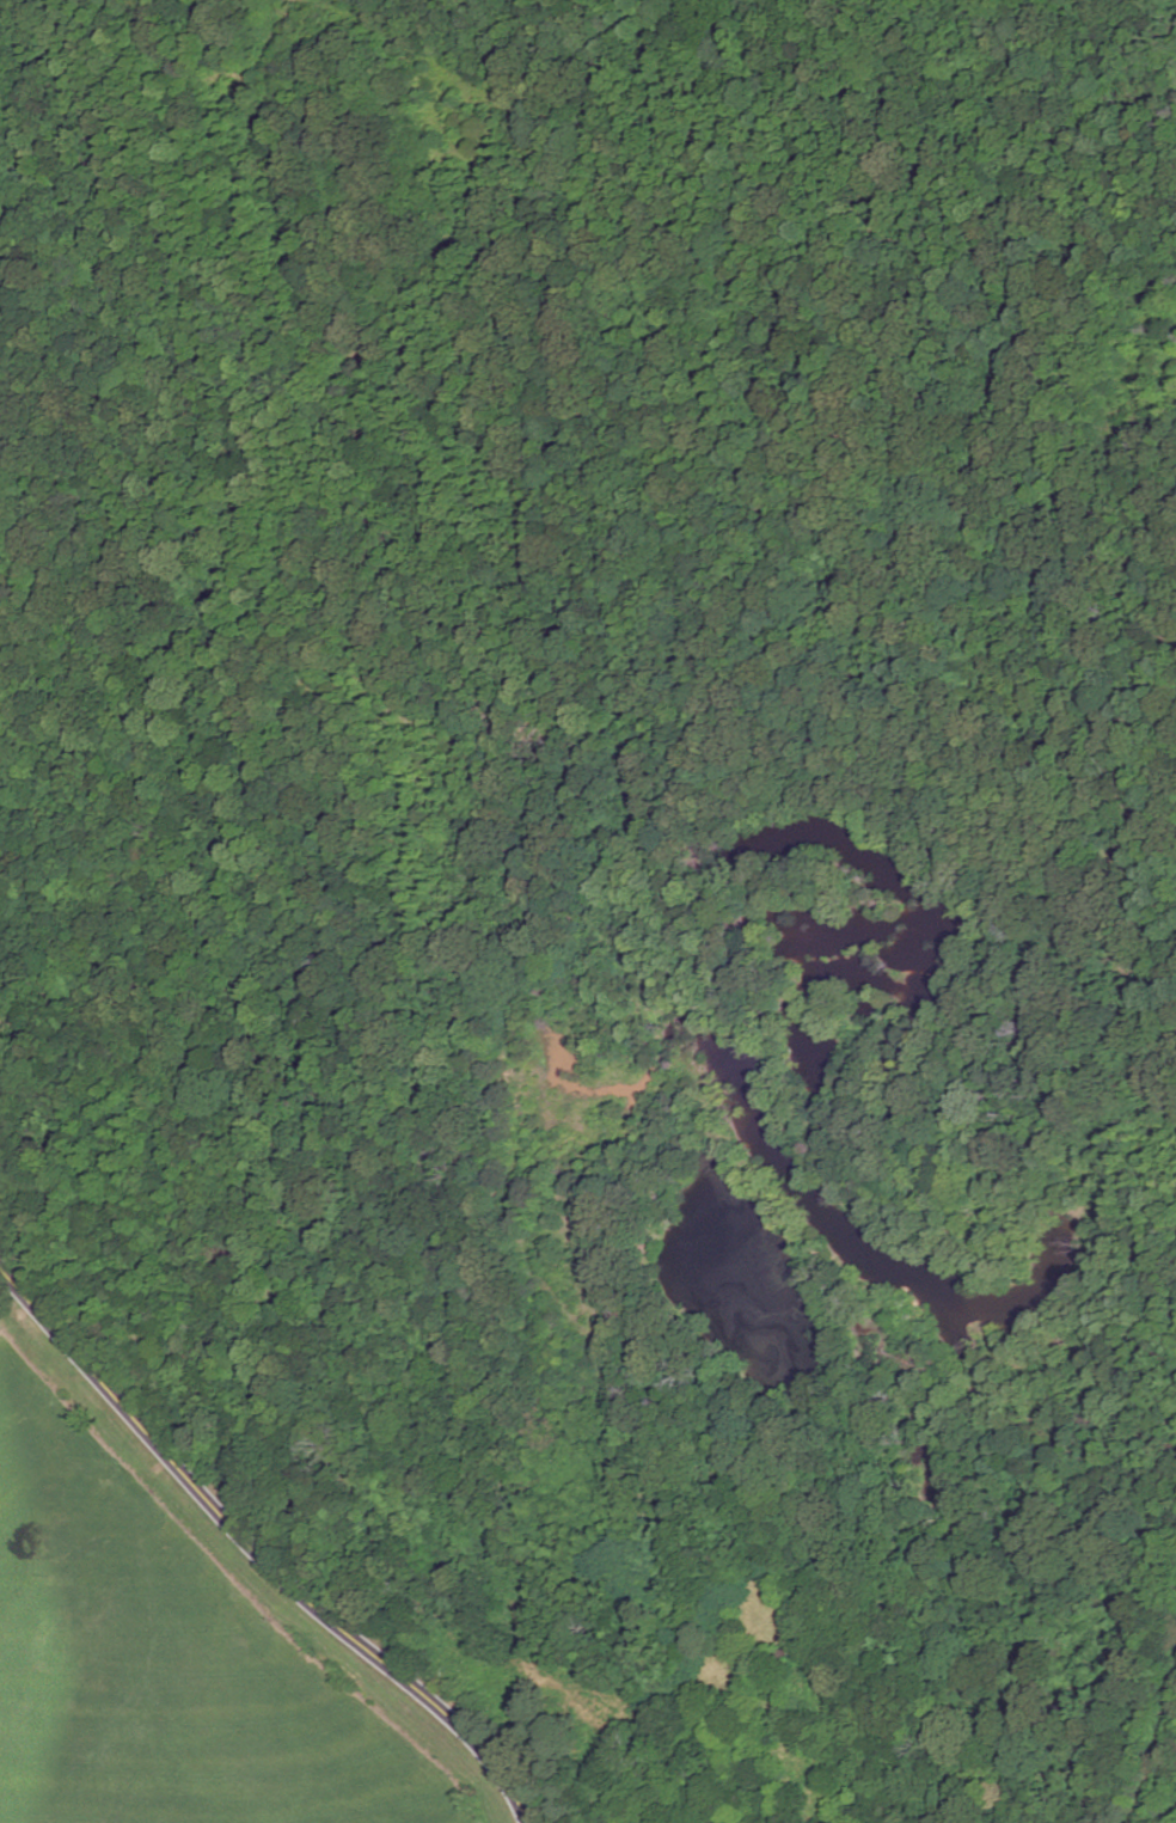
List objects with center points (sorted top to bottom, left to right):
road: (257, 1552)
building: (757, 1663)
road: (623, 1742)

